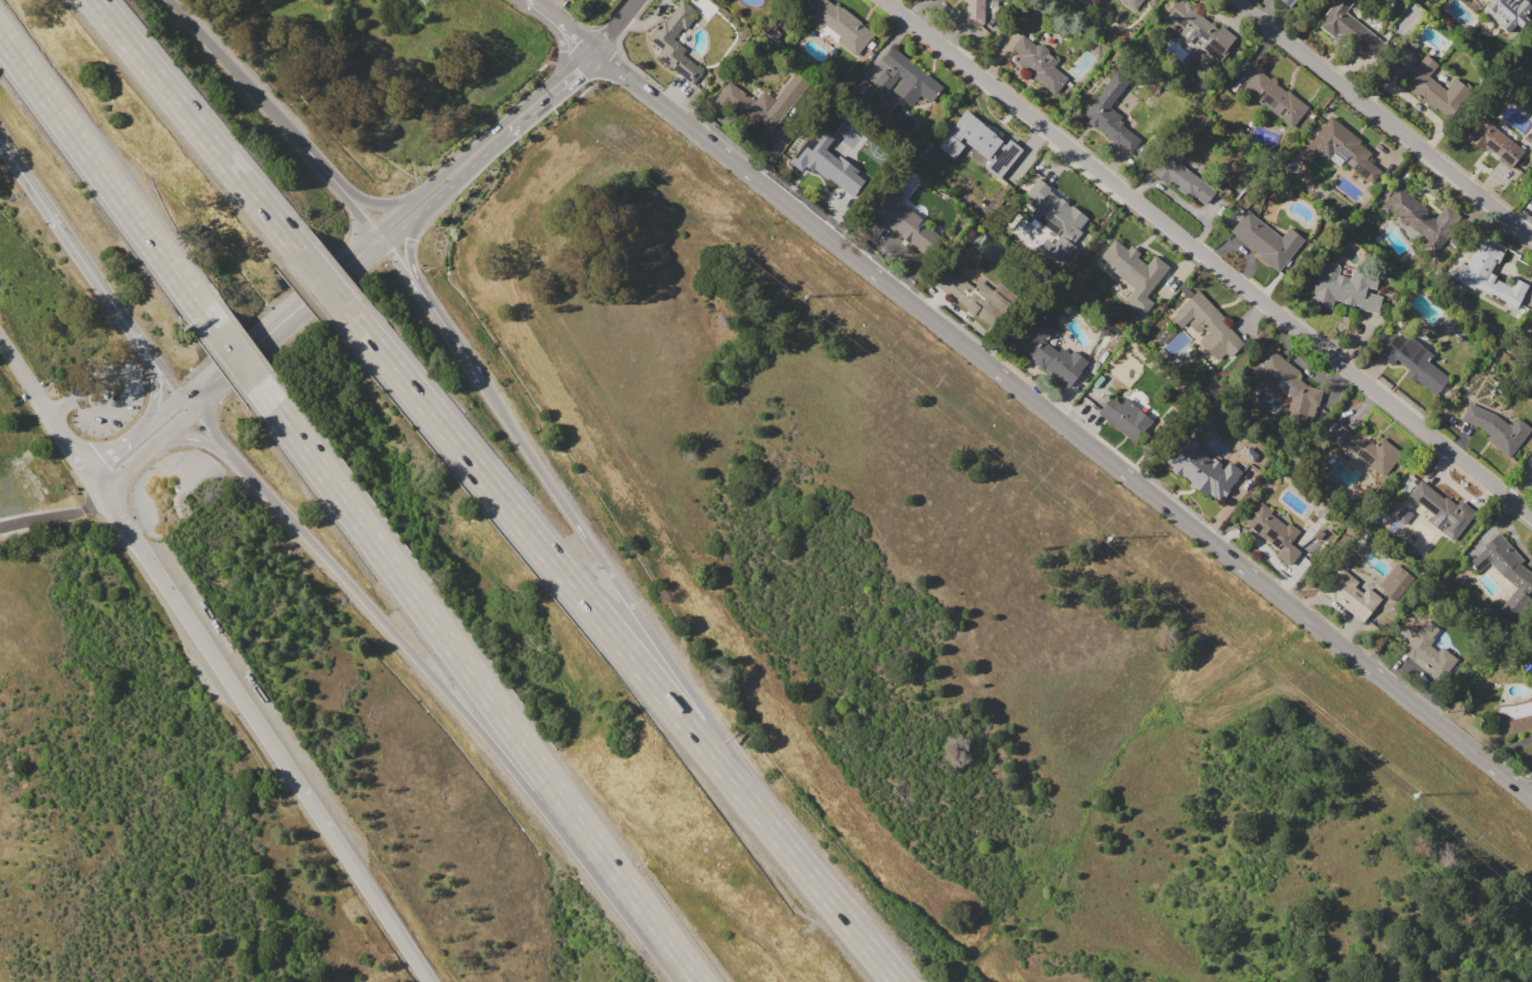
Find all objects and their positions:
building: (1289, 2)
building: (1131, 3)
building: (974, 11)
building: (1507, 12)
road: (565, 23)
road: (616, 24)
building: (840, 25)
road: (555, 30)
building: (1201, 30)
building: (1349, 30)
building: (676, 42)
building: (1039, 65)
building: (906, 79)
road: (555, 85)
building: (1435, 87)
building: (1275, 98)
building: (763, 102)
building: (1110, 113)
road: (275, 116)
road: (1382, 119)
road: (195, 126)
building: (985, 136)
building: (1494, 143)
building: (1342, 149)
building: (1002, 157)
road: (462, 164)
building: (819, 165)
building: (1184, 177)
road: (107, 182)
road: (363, 200)
building: (1053, 215)
building: (1422, 217)
building: (901, 223)
road: (65, 234)
building: (1267, 240)
road: (1207, 259)
road: (412, 262)
building: (1131, 273)
road: (405, 274)
building: (1489, 276)
road: (322, 281)
building: (1346, 288)
building: (974, 295)
power tower: (804, 296)
road: (299, 303)
building: (1209, 328)
building: (1531, 334)
road: (459, 347)
road: (235, 355)
building: (1050, 359)
building: (1414, 364)
road: (159, 365)
road: (153, 376)
road: (129, 379)
building: (1286, 383)
parking lot: (102, 394)
road: (44, 404)
road: (167, 413)
building: (1127, 417)
road: (1064, 425)
building: (1496, 428)
road: (216, 435)
road: (207, 445)
road: (119, 448)
road: (148, 448)
building: (1366, 450)
building: (1248, 455)
building: (1201, 469)
park: (8, 497)
building: (1442, 510)
road: (55, 515)
building: (1403, 515)
building: (1273, 532)
power tower: (1107, 537)
building: (1505, 571)
road: (567, 580)
building: (1395, 583)
building: (1352, 594)
road: (638, 615)
building: (1428, 652)
road: (476, 682)
building: (1513, 717)
road: (473, 722)
road: (260, 725)
power tower: (1412, 794)
road: (842, 916)

